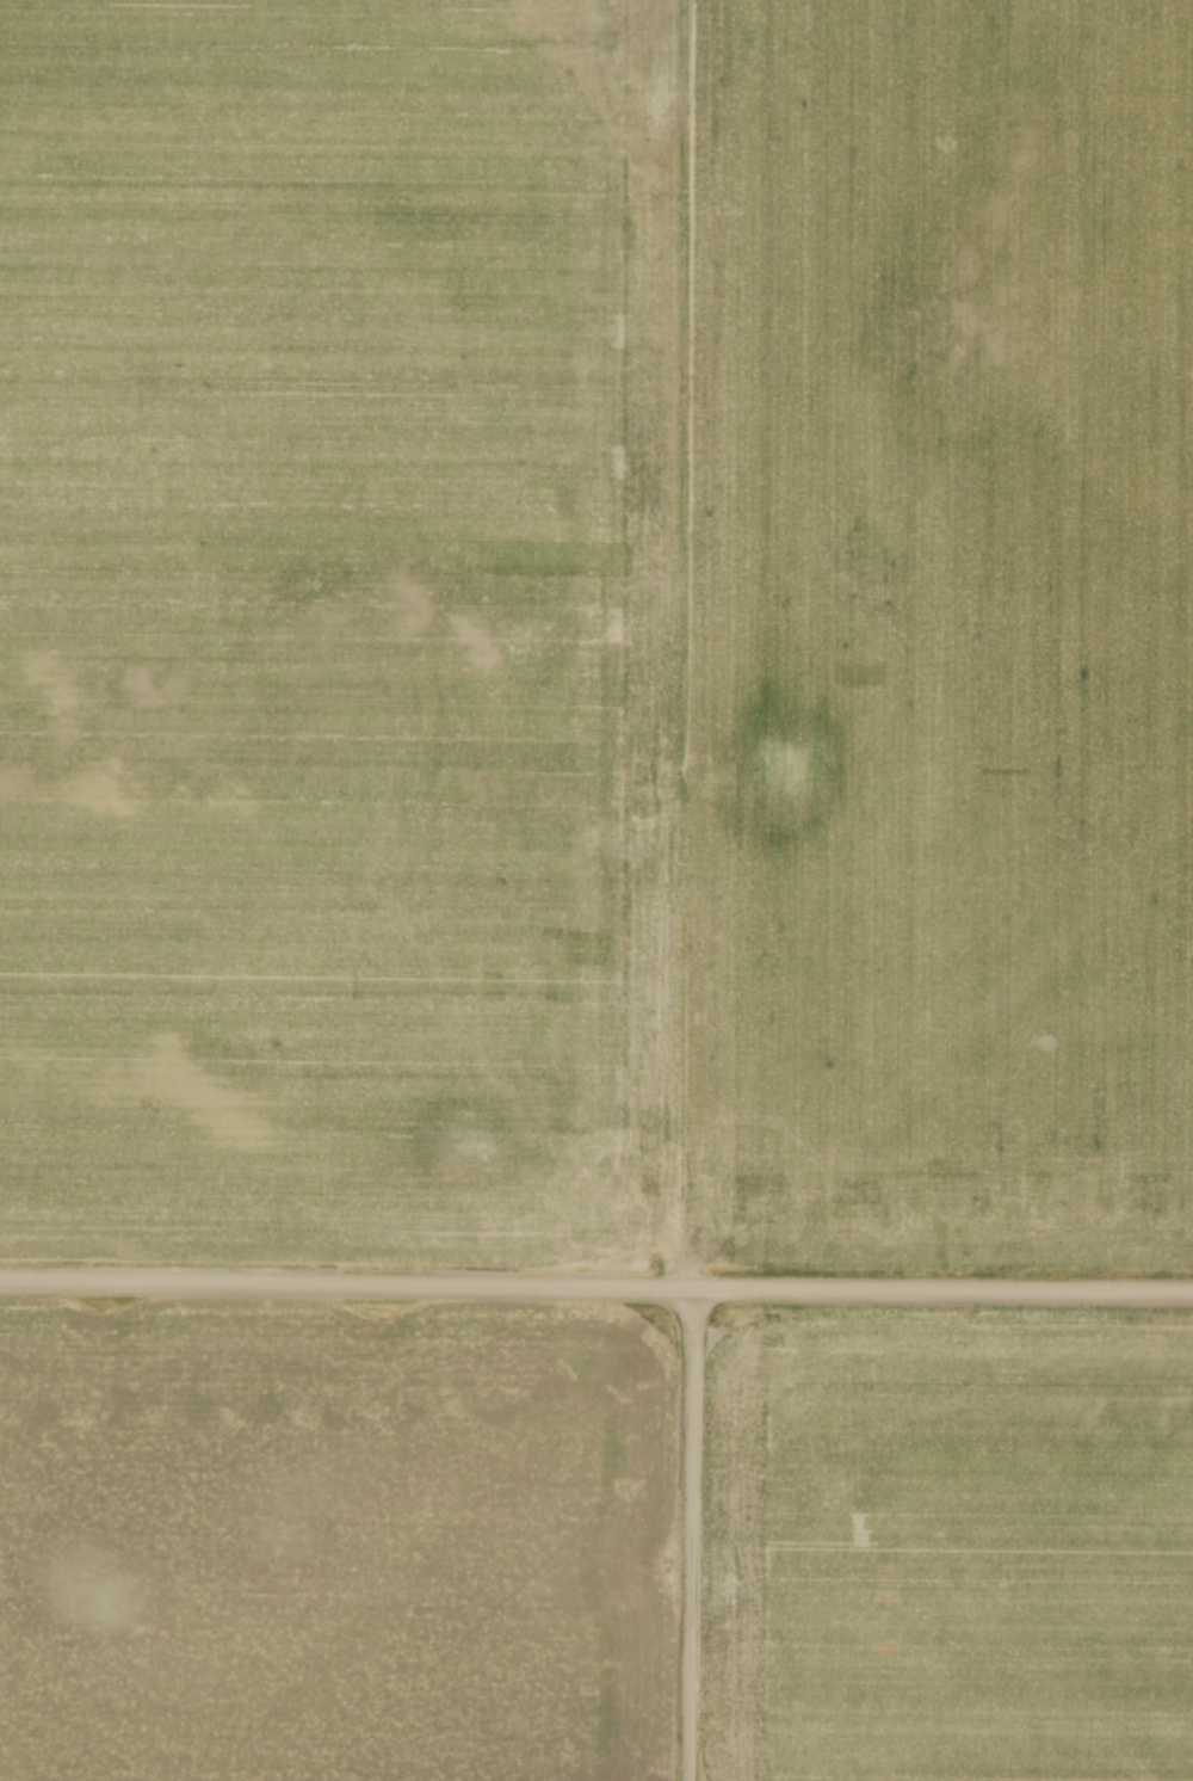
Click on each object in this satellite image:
crop: (596, 628)
road: (595, 1284)
road: (687, 1533)
crop: (329, 1545)
crop: (950, 1546)

